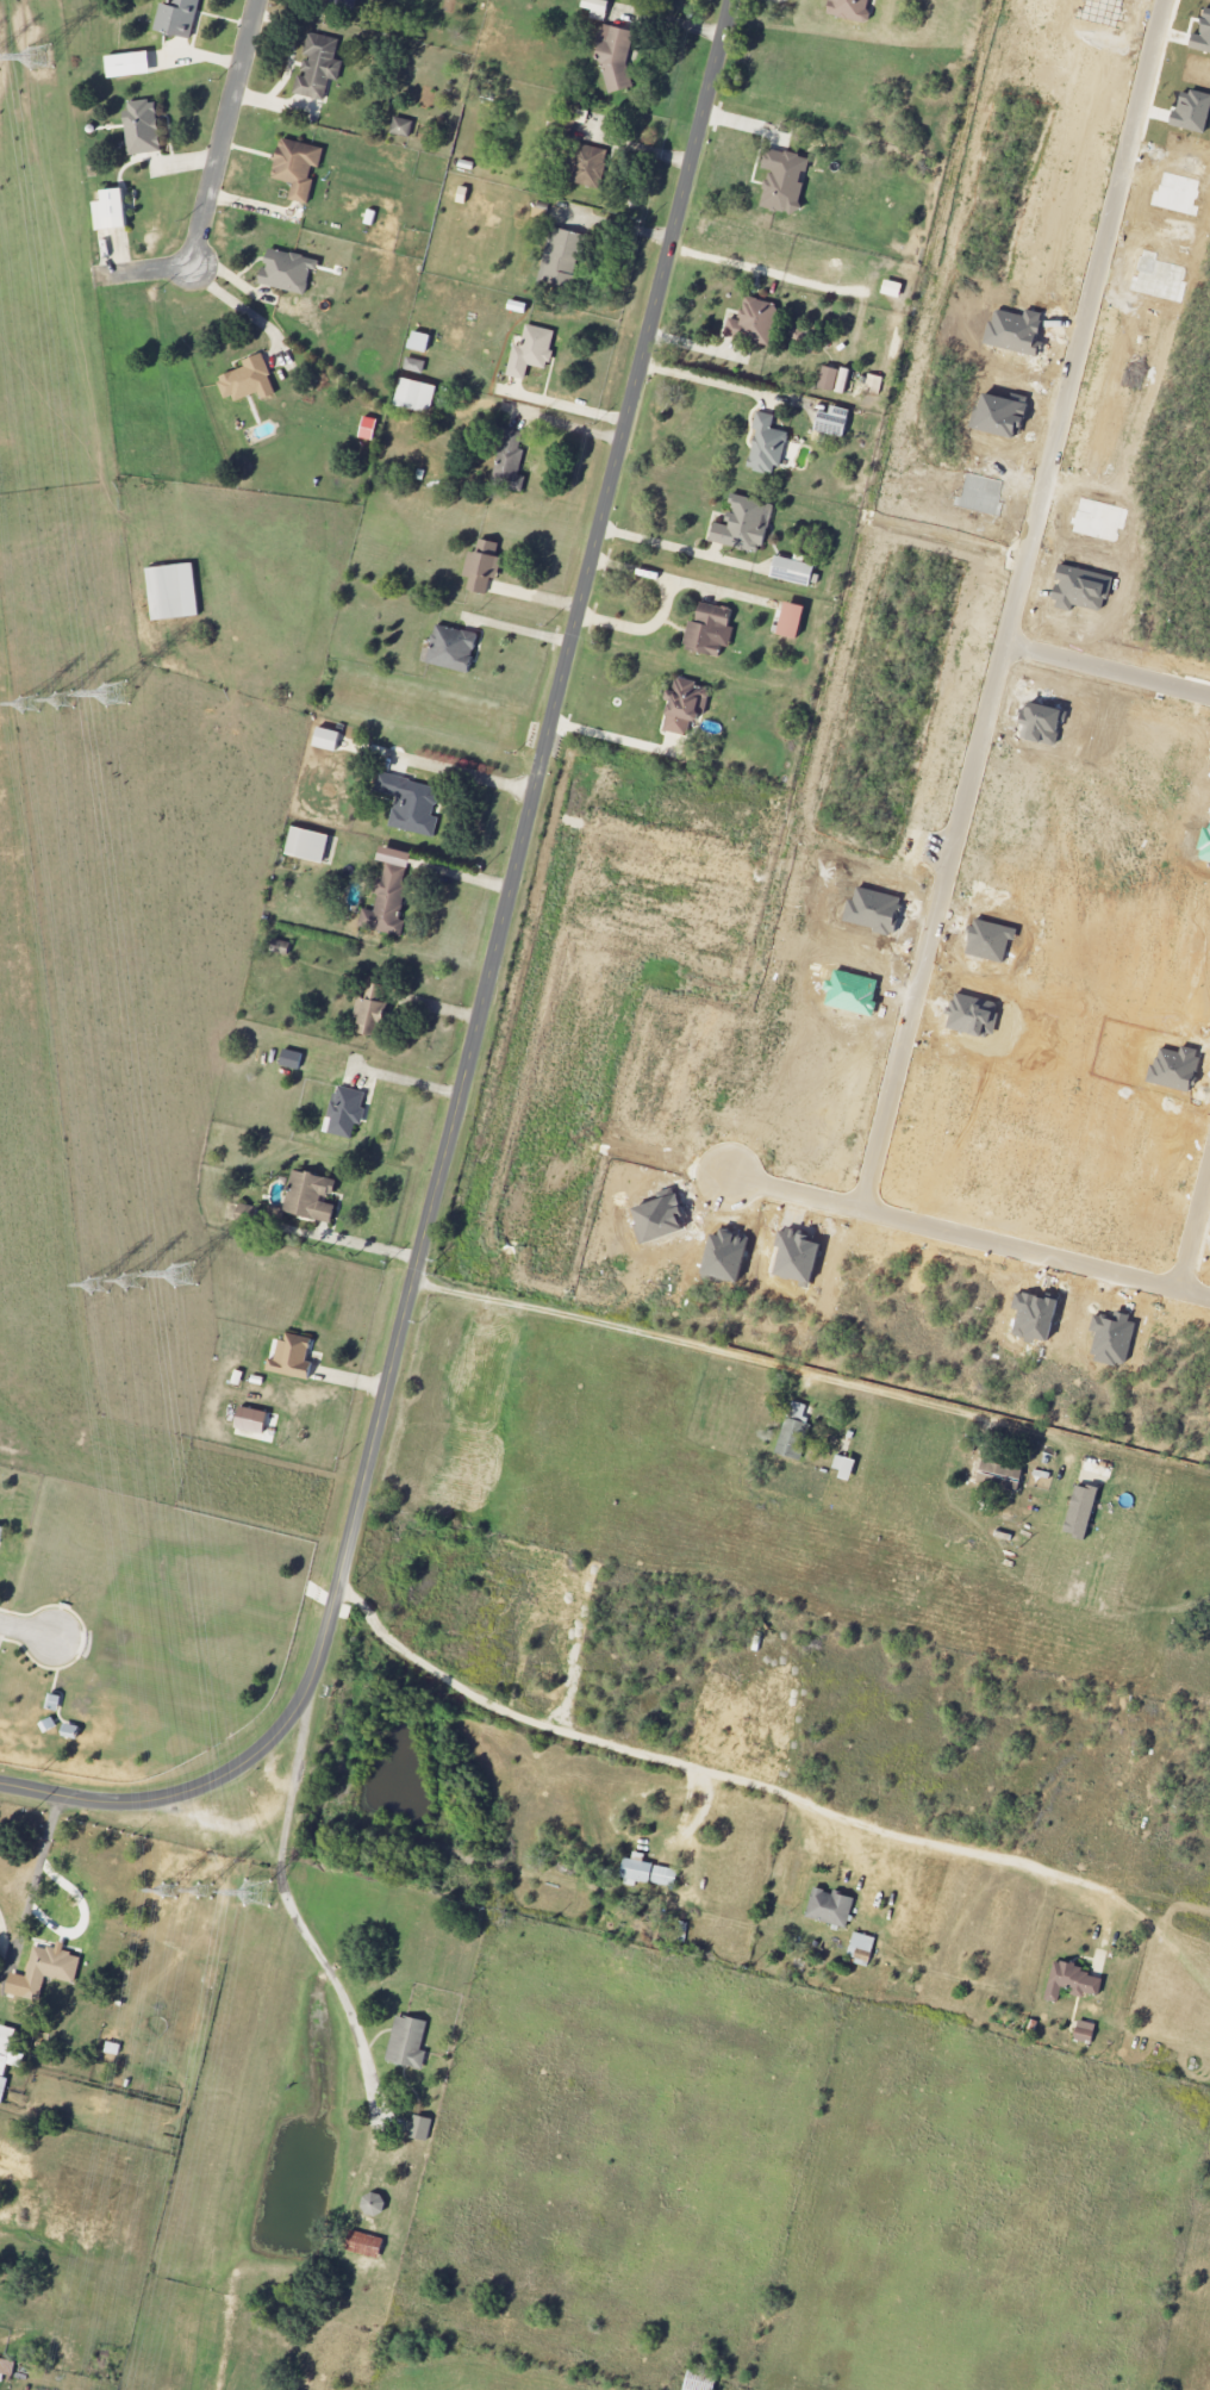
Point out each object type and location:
building: (354, 0)
building: (878, 0)
building: (598, 8)
building: (852, 10)
building: (179, 18)
power tower: (44, 58)
building: (616, 58)
building: (130, 64)
building: (319, 67)
building: (143, 127)
building: (403, 127)
building: (587, 166)
building: (298, 168)
road: (213, 180)
building: (785, 181)
building: (463, 195)
building: (112, 211)
road: (619, 224)
building: (560, 259)
building: (288, 272)
building: (893, 290)
road: (241, 305)
building: (754, 323)
building: (420, 342)
building: (532, 351)
building: (414, 366)
road: (707, 378)
building: (835, 379)
building: (250, 381)
building: (873, 385)
building: (418, 397)
building: (835, 422)
building: (369, 429)
building: (767, 446)
building: (510, 461)
building: (743, 525)
road: (673, 546)
building: (484, 567)
building: (794, 571)
building: (174, 592)
road: (667, 604)
building: (793, 621)
road: (520, 628)
building: (709, 630)
building: (453, 649)
road: (1108, 672)
power tower: (118, 695)
power tower: (67, 703)
power tower: (32, 707)
building: (685, 714)
road: (610, 735)
building: (329, 739)
road: (468, 776)
road: (973, 777)
building: (412, 804)
road: (746, 813)
building: (308, 845)
building: (398, 857)
road: (454, 873)
building: (388, 902)
road: (481, 1016)
building: (375, 1017)
building: (292, 1059)
road: (407, 1081)
building: (345, 1112)
road: (797, 1190)
building: (313, 1196)
road: (1195, 1226)
road: (366, 1244)
power tower: (186, 1280)
power tower: (136, 1282)
power tower: (101, 1287)
building: (294, 1356)
road: (775, 1361)
building: (252, 1420)
building: (794, 1433)
building: (996, 1476)
building: (1083, 1512)
road: (29, 1631)
road: (769, 1788)
road: (38, 1869)
building: (649, 1873)
power tower: (173, 1892)
power tower: (206, 1893)
power tower: (262, 1894)
building: (831, 1907)
road: (293, 1910)
road: (7, 1925)
building: (862, 1944)
building: (50, 1969)
building: (1073, 1983)
building: (1086, 2031)
building: (408, 2042)
building: (8, 2050)
building: (2, 2087)
building: (420, 2128)
building: (374, 2204)
building: (367, 2245)
building: (7, 2367)

